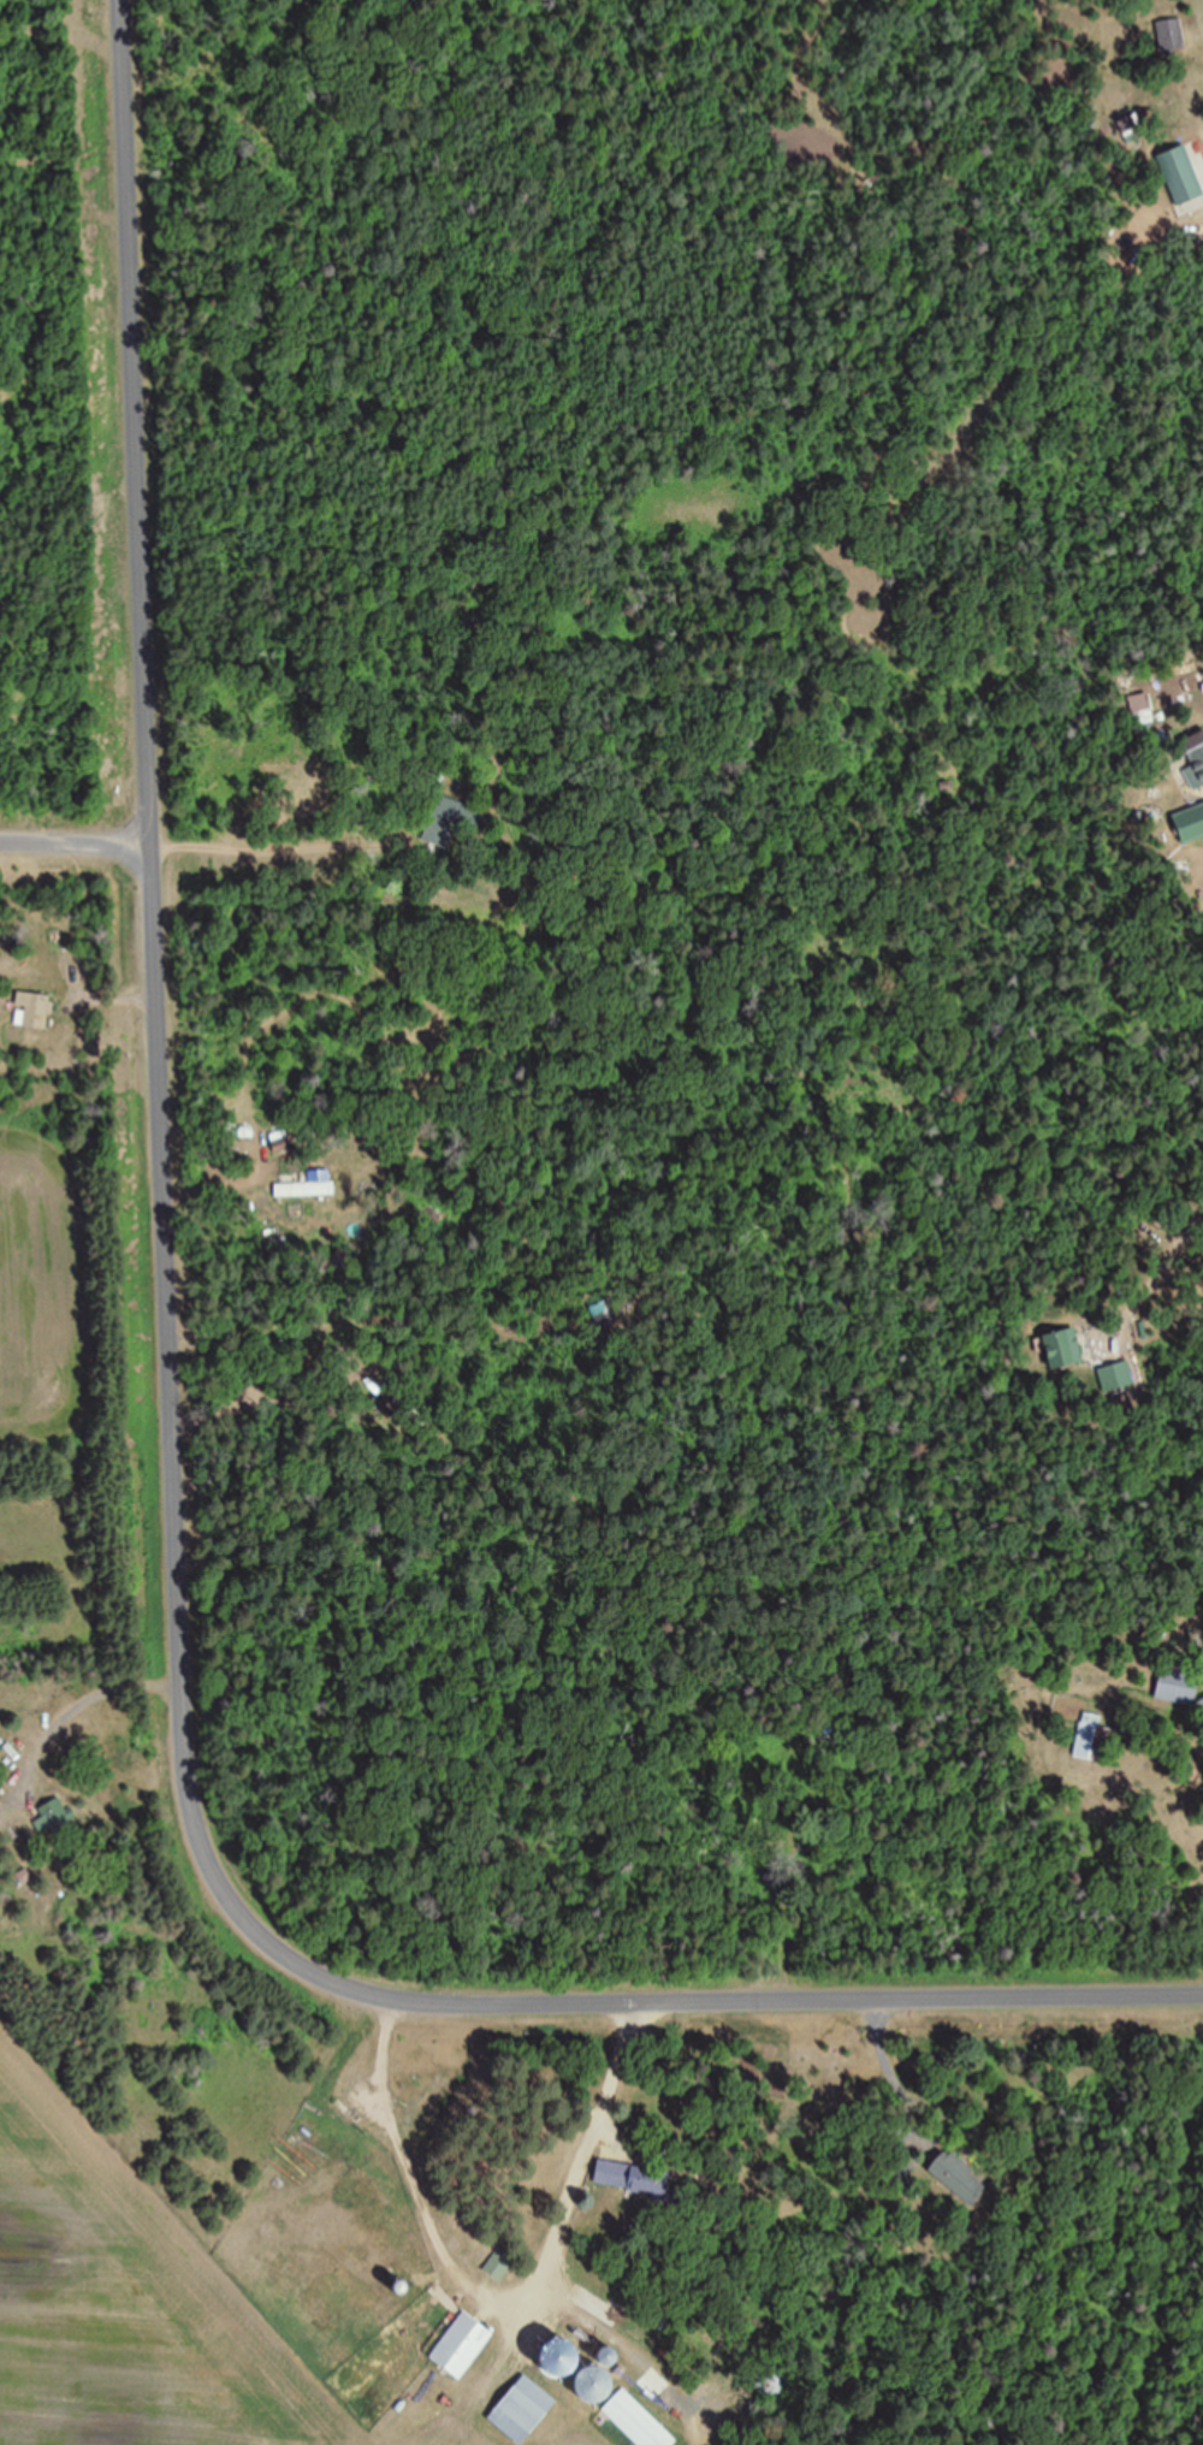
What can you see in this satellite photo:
building: (1171, 34)
building: (1181, 174)
building: (1196, 751)
building: (454, 817)
road: (76, 819)
building: (34, 1011)
building: (286, 1136)
building: (1067, 1348)
building: (1118, 1377)
road: (177, 1448)
building: (1179, 1685)
building: (1095, 1739)
building: (57, 1818)
road: (583, 2163)
building: (961, 2175)
building: (645, 2180)
building: (502, 2262)
building: (463, 2343)
building: (567, 2364)
building: (528, 2408)
building: (639, 2420)

